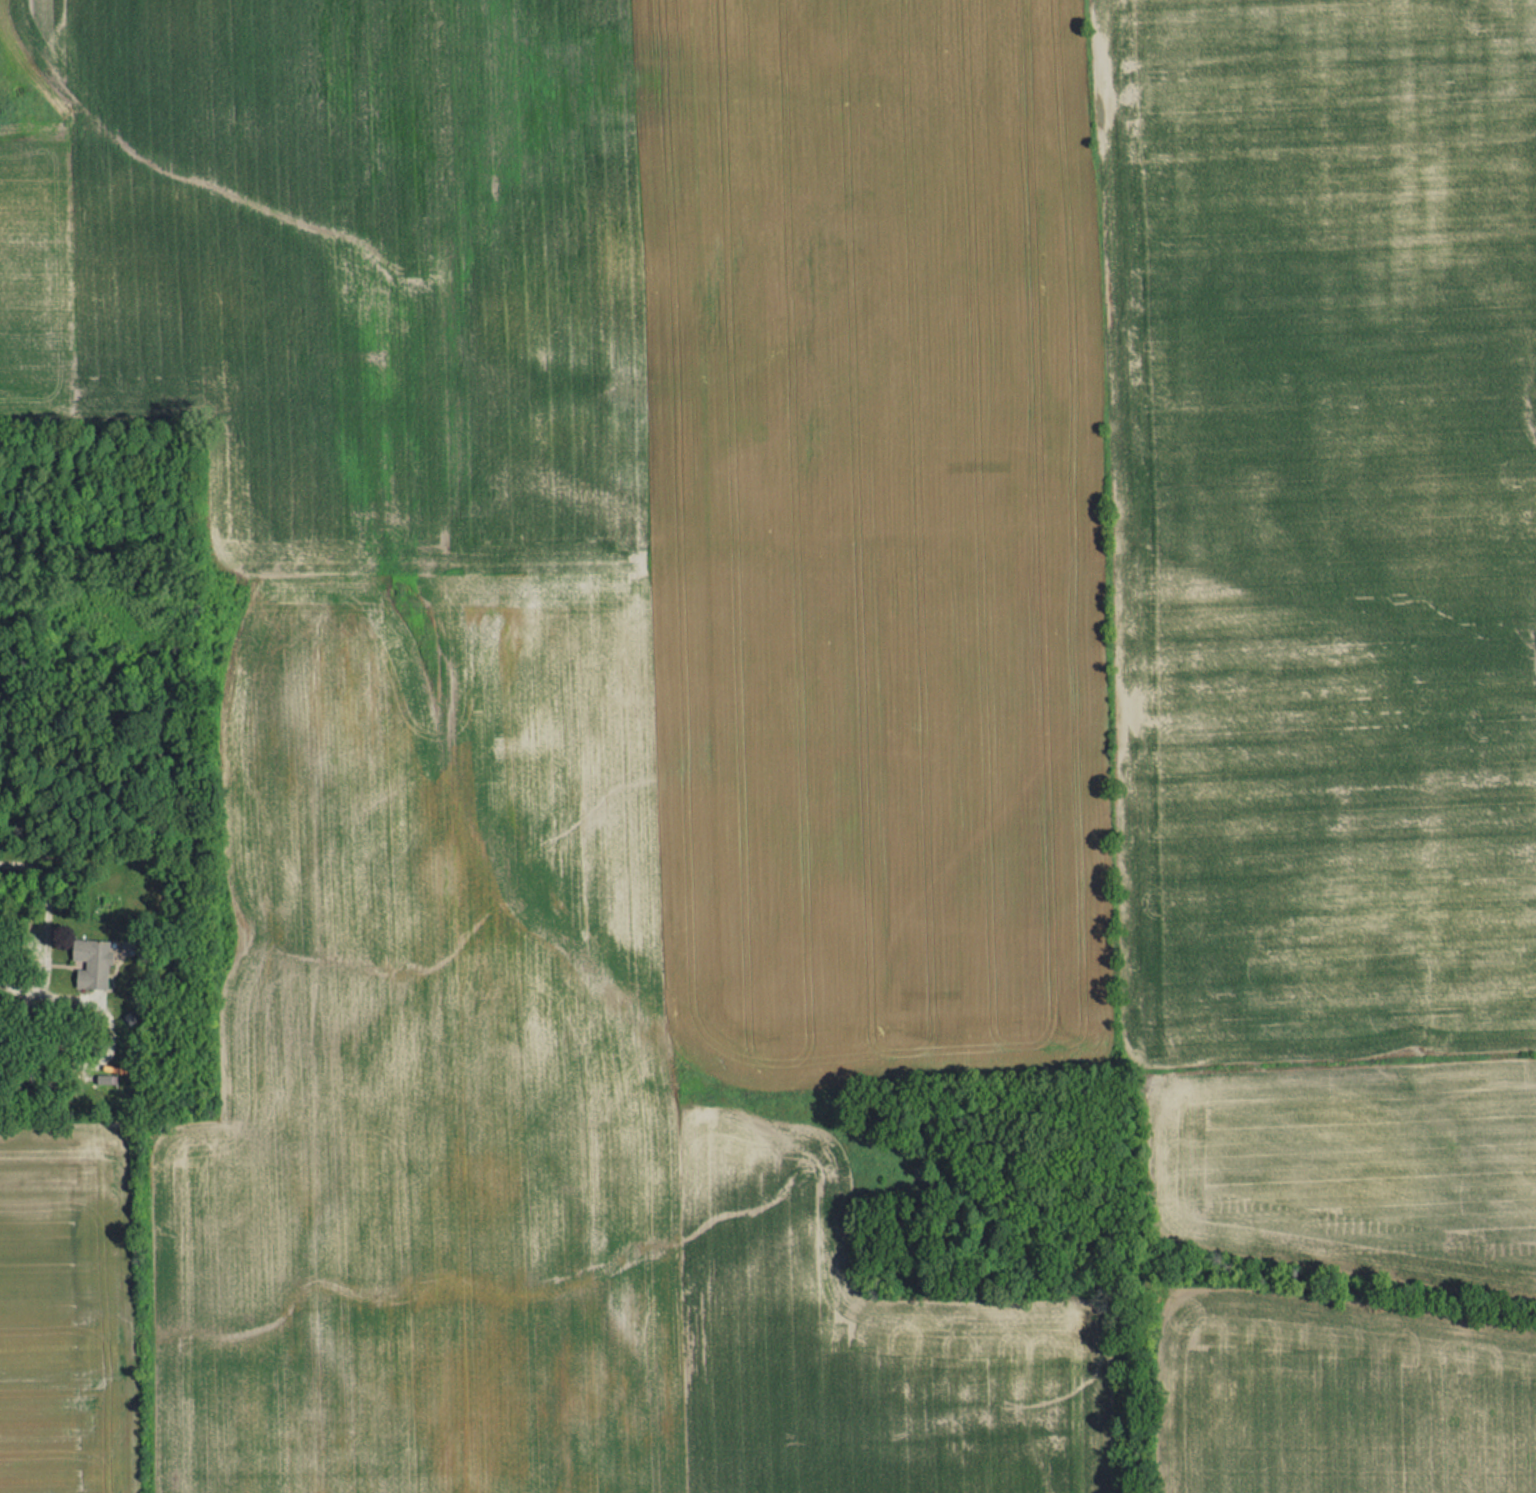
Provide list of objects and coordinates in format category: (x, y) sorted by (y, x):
road: (50, 934)
building: (92, 964)

